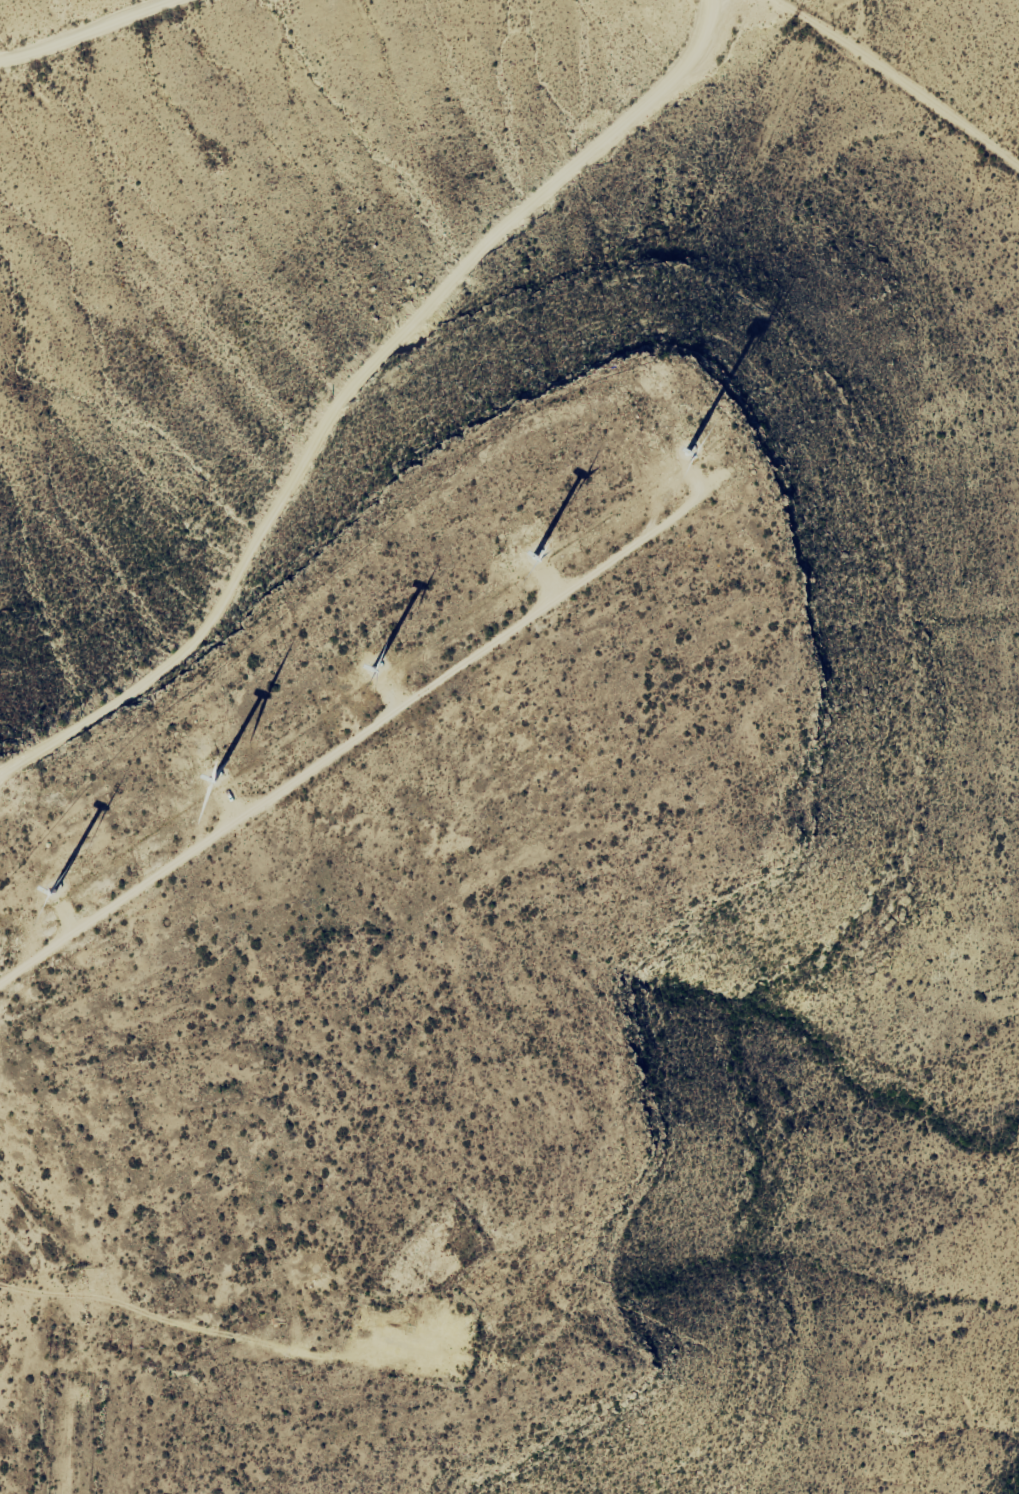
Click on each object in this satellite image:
road: (143, 53)
road: (364, 398)
wind turbine: (682, 448)
wind turbine: (542, 561)
wind turbine: (372, 675)
wind turbine: (220, 776)
wind turbine: (45, 899)
road: (181, 1335)

